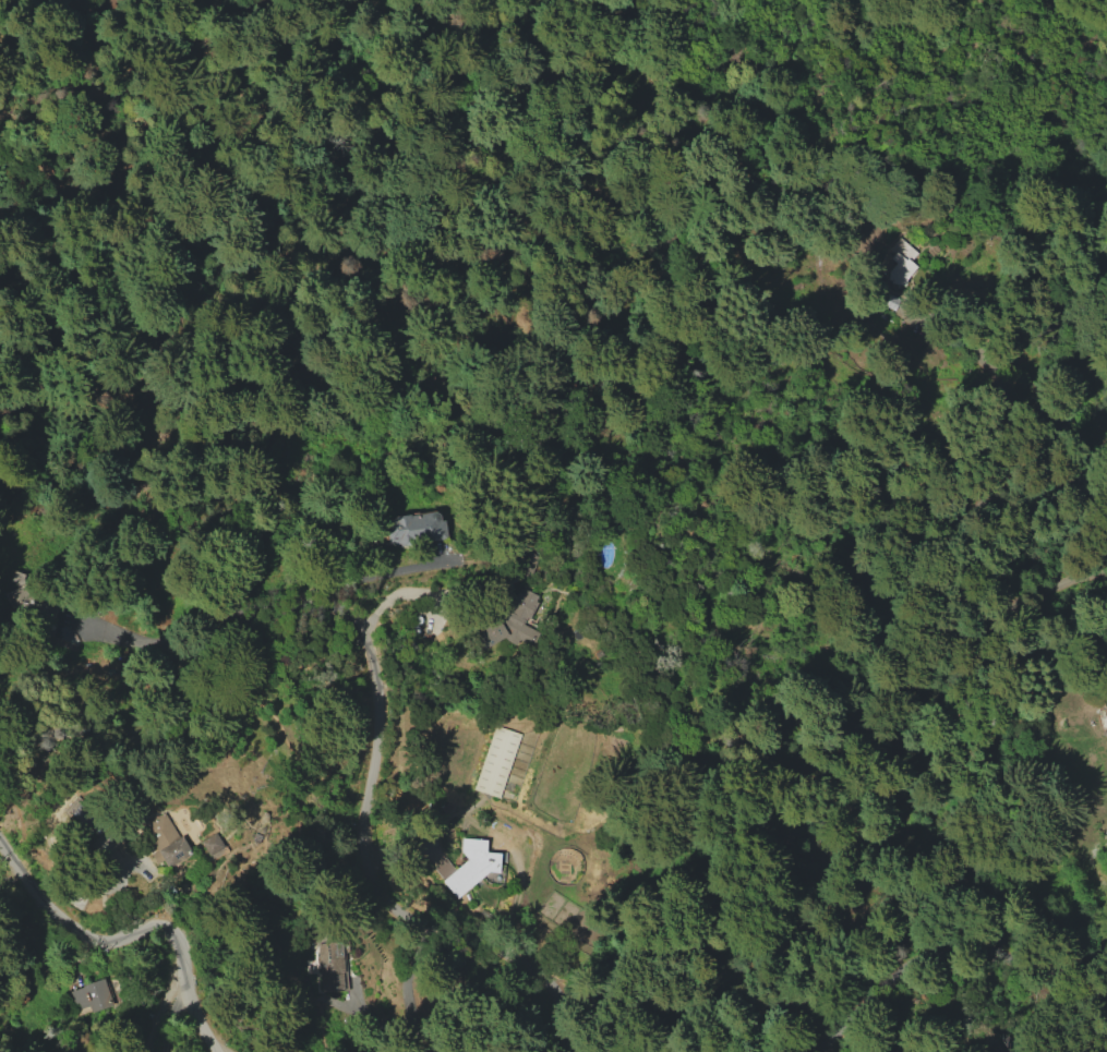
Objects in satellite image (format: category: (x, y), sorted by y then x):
road: (133, 199)
building: (900, 263)
building: (513, 634)
road: (253, 648)
building: (494, 762)
building: (169, 844)
building: (213, 846)
building: (470, 866)
road: (944, 960)
building: (111, 991)
building: (89, 997)
road: (163, 1017)

